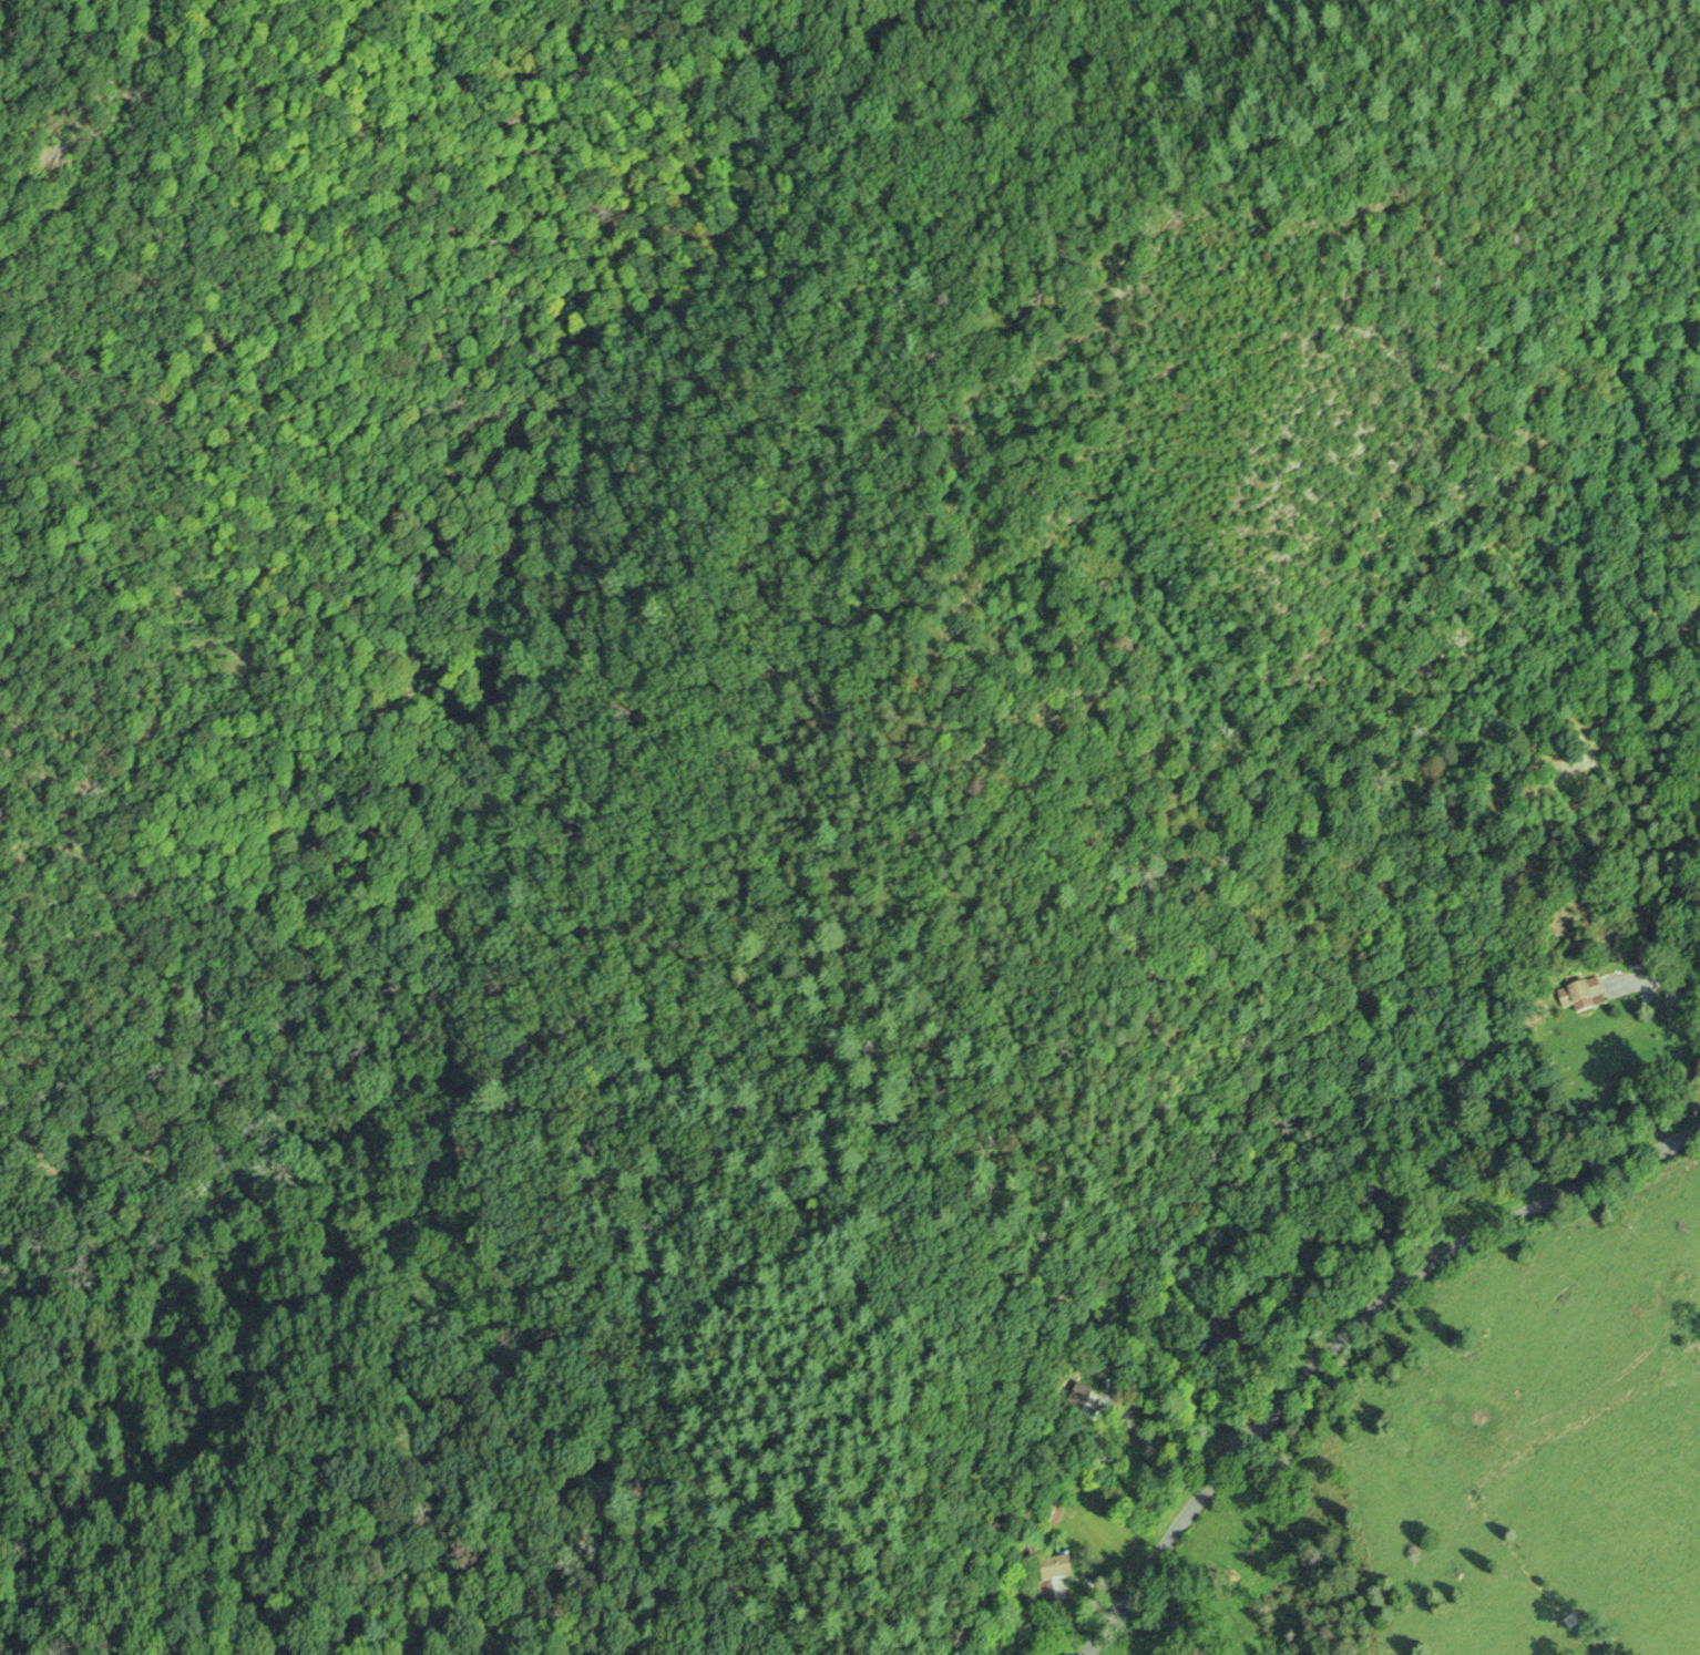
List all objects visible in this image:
building: (1581, 991)
road: (1340, 1330)
building: (1056, 1511)
building: (1055, 1573)

